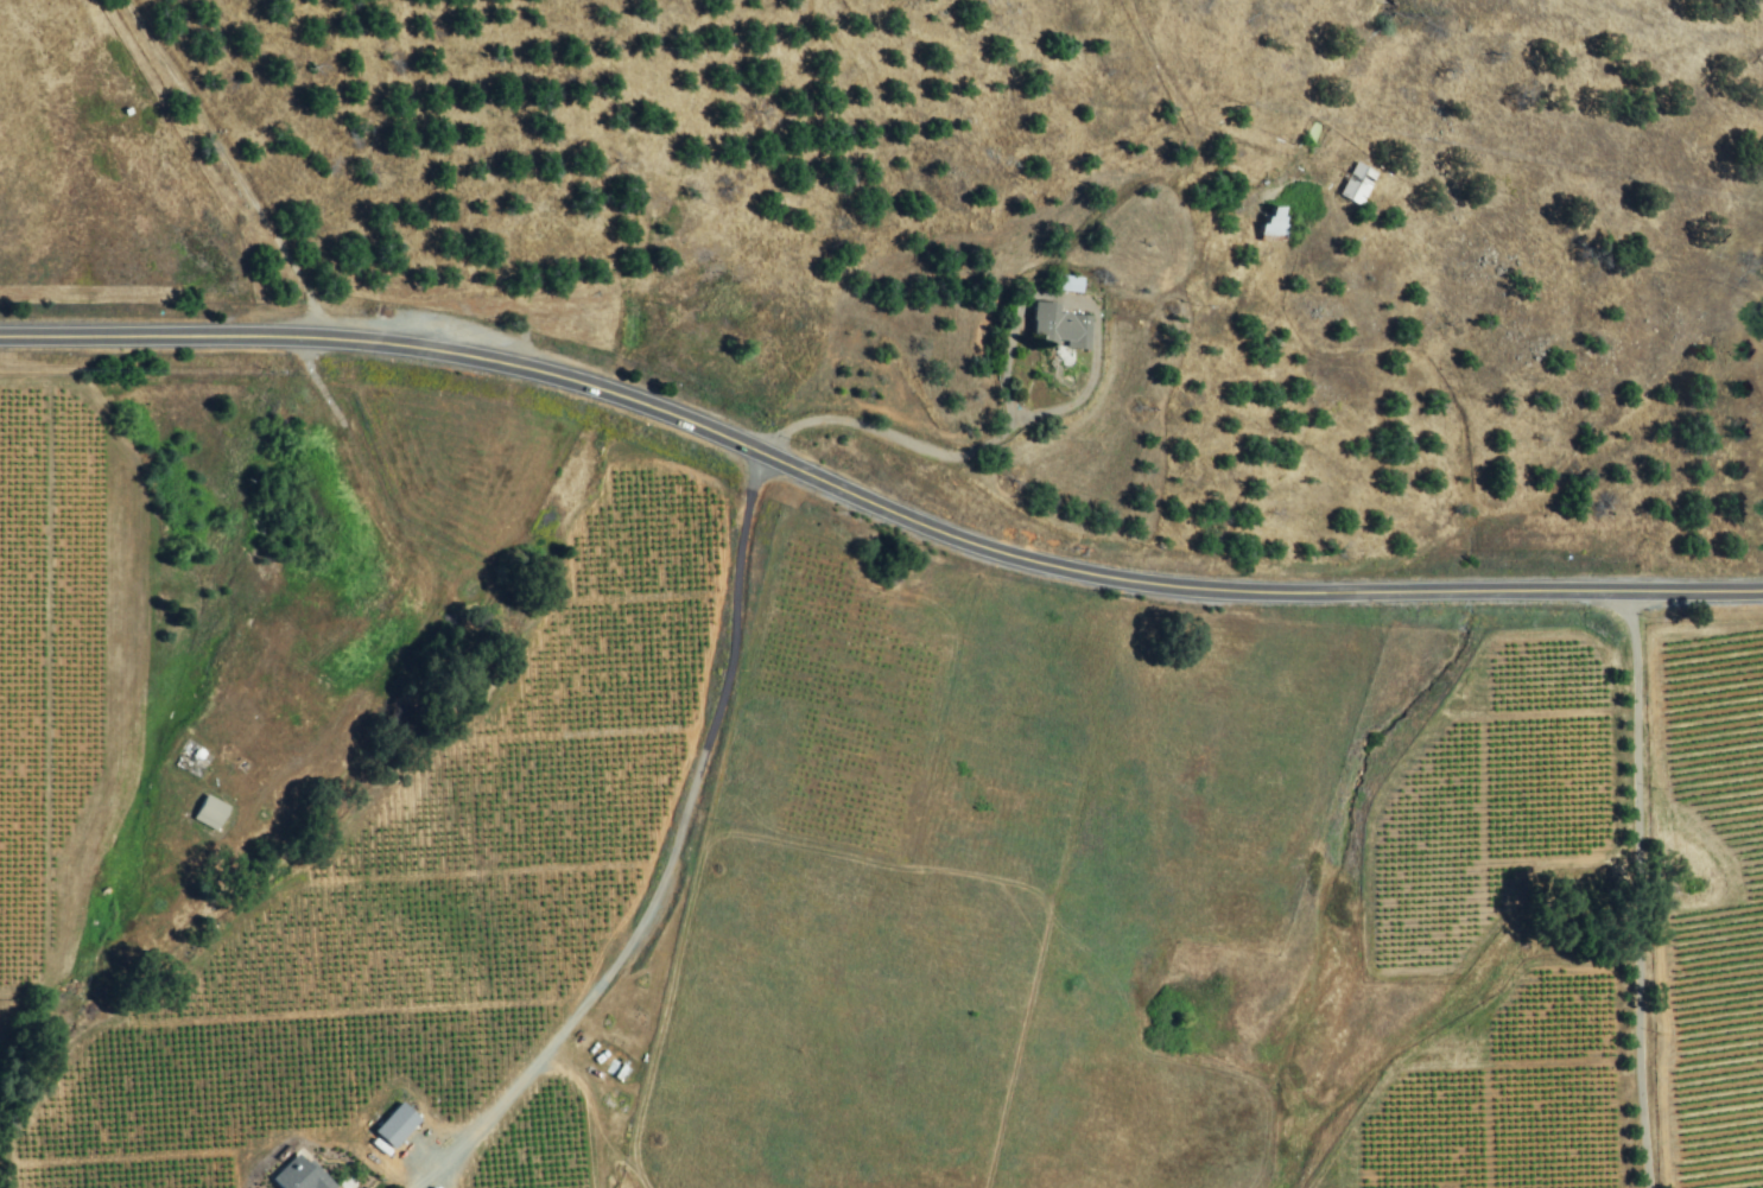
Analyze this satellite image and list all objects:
road: (234, 163)
building: (1355, 184)
building: (1271, 223)
building: (1068, 284)
building: (1059, 328)
road: (915, 447)
road: (875, 507)
building: (208, 812)
road: (668, 862)
road: (1286, 877)
road: (1634, 892)
building: (393, 1125)
building: (296, 1175)

